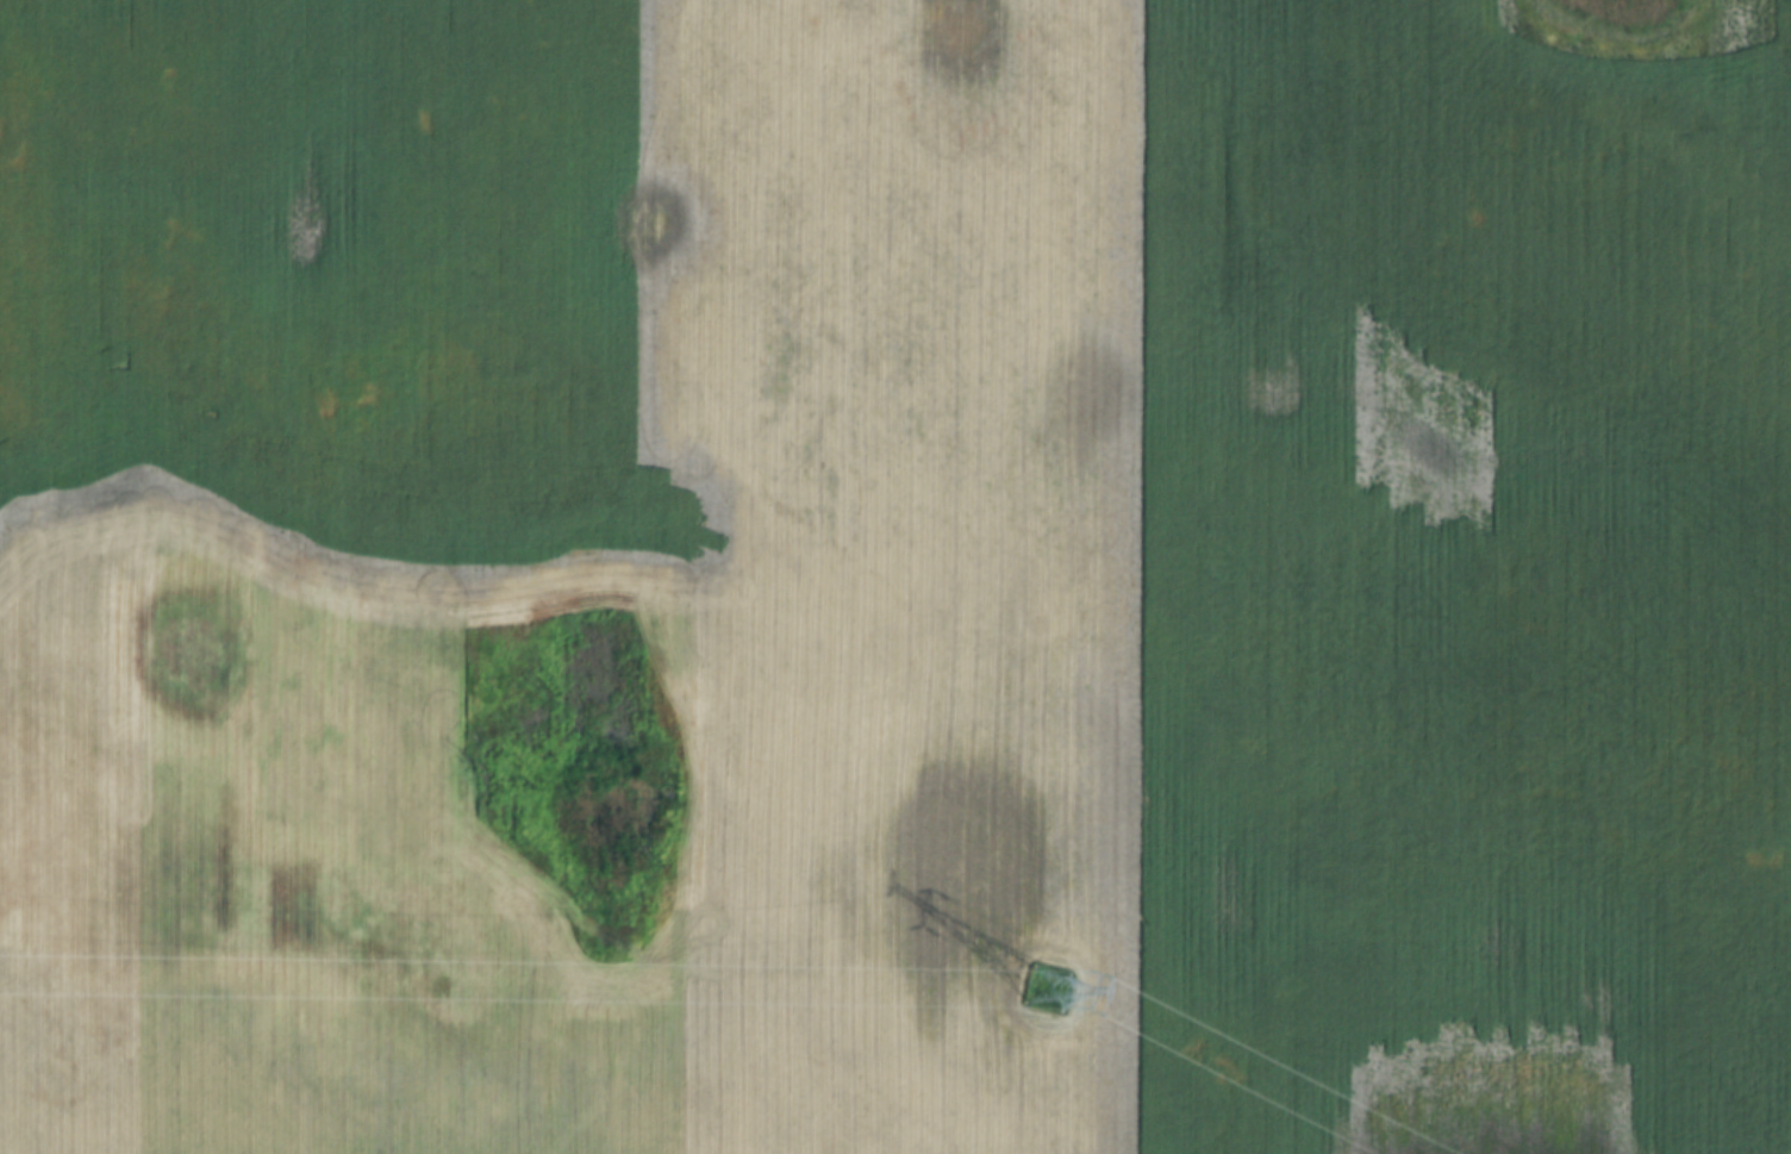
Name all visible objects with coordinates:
power tower: (1042, 986)

